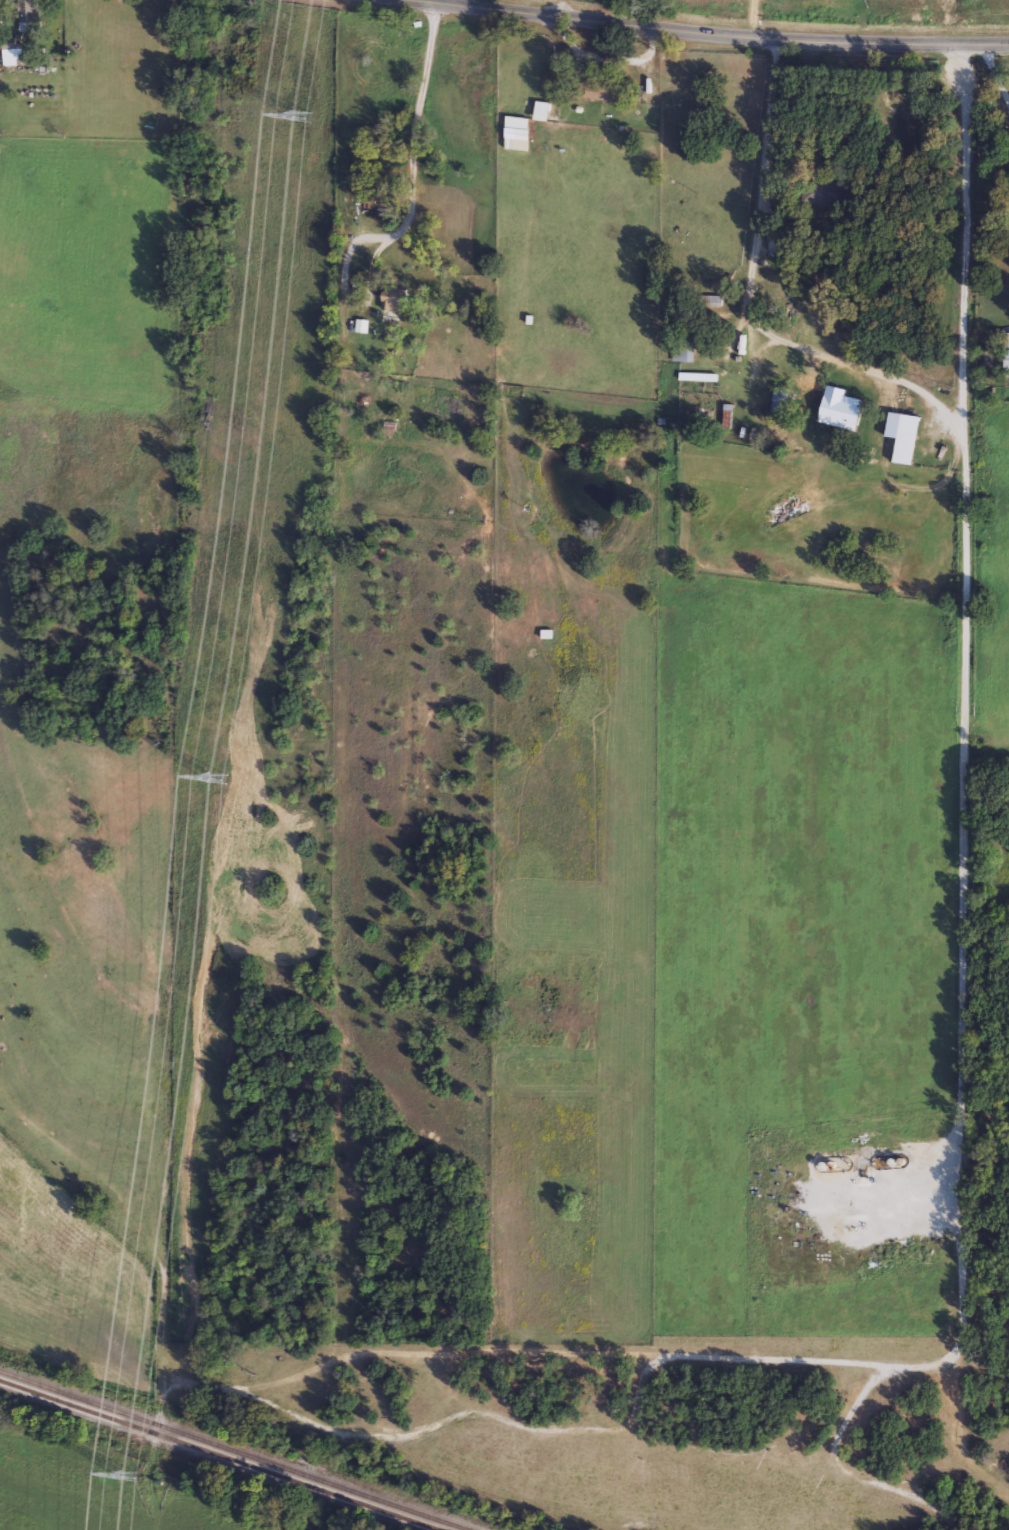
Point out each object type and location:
road: (426, 1)
road: (435, 1)
building: (27, 16)
road: (721, 34)
road: (604, 55)
building: (9, 56)
road: (996, 68)
building: (597, 90)
building: (539, 113)
power tower: (297, 118)
building: (515, 125)
road: (412, 147)
road: (958, 233)
building: (390, 300)
building: (359, 327)
building: (685, 350)
building: (778, 401)
building: (904, 441)
road: (965, 764)
power tower: (214, 780)
building: (832, 1261)
railway: (231, 1450)
railway: (218, 1456)
power tower: (129, 1476)

